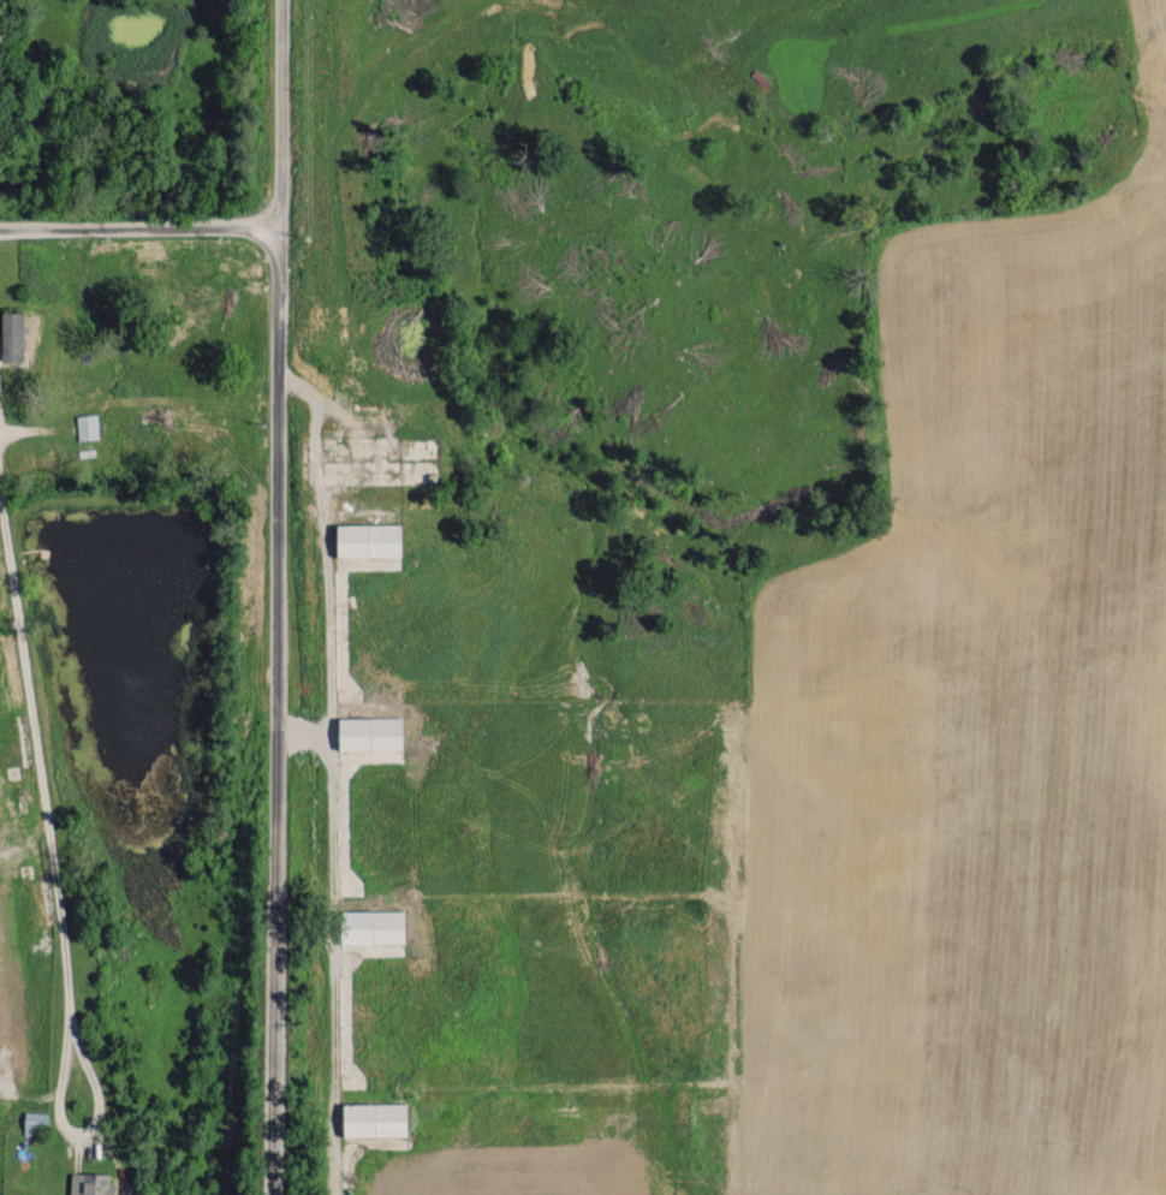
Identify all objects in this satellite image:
road: (4, 53)
road: (141, 227)
building: (11, 335)
building: (87, 426)
building: (368, 540)
road: (278, 596)
building: (369, 733)
road: (31, 768)
building: (371, 927)
building: (374, 1119)
road: (78, 1128)
building: (90, 1184)

